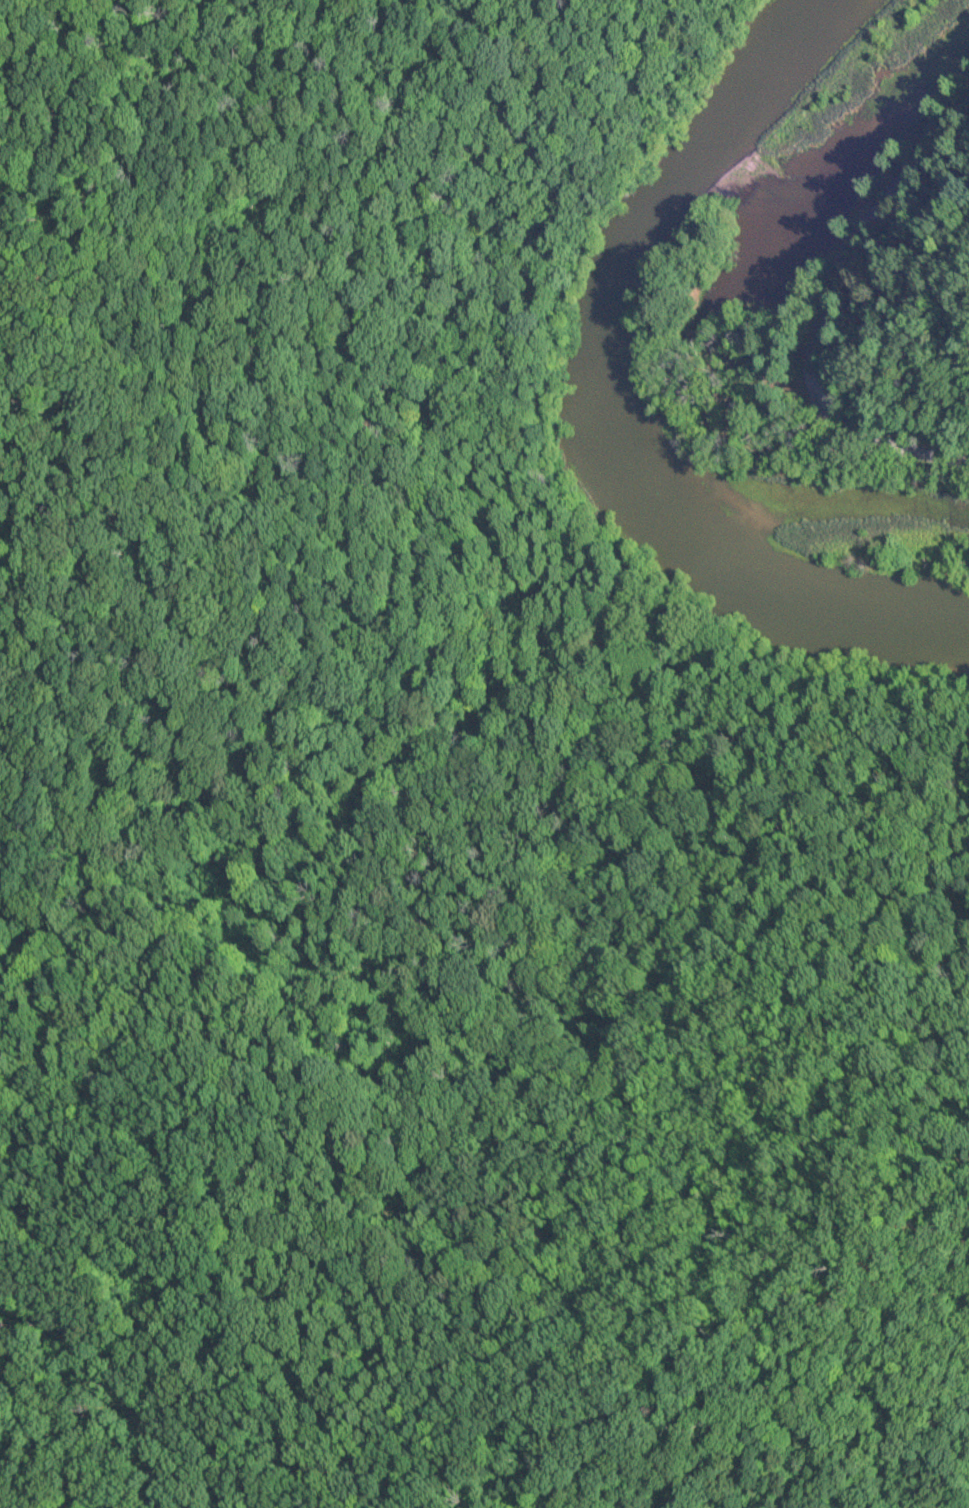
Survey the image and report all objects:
road: (826, 299)
river: (613, 372)
road: (109, 1380)

